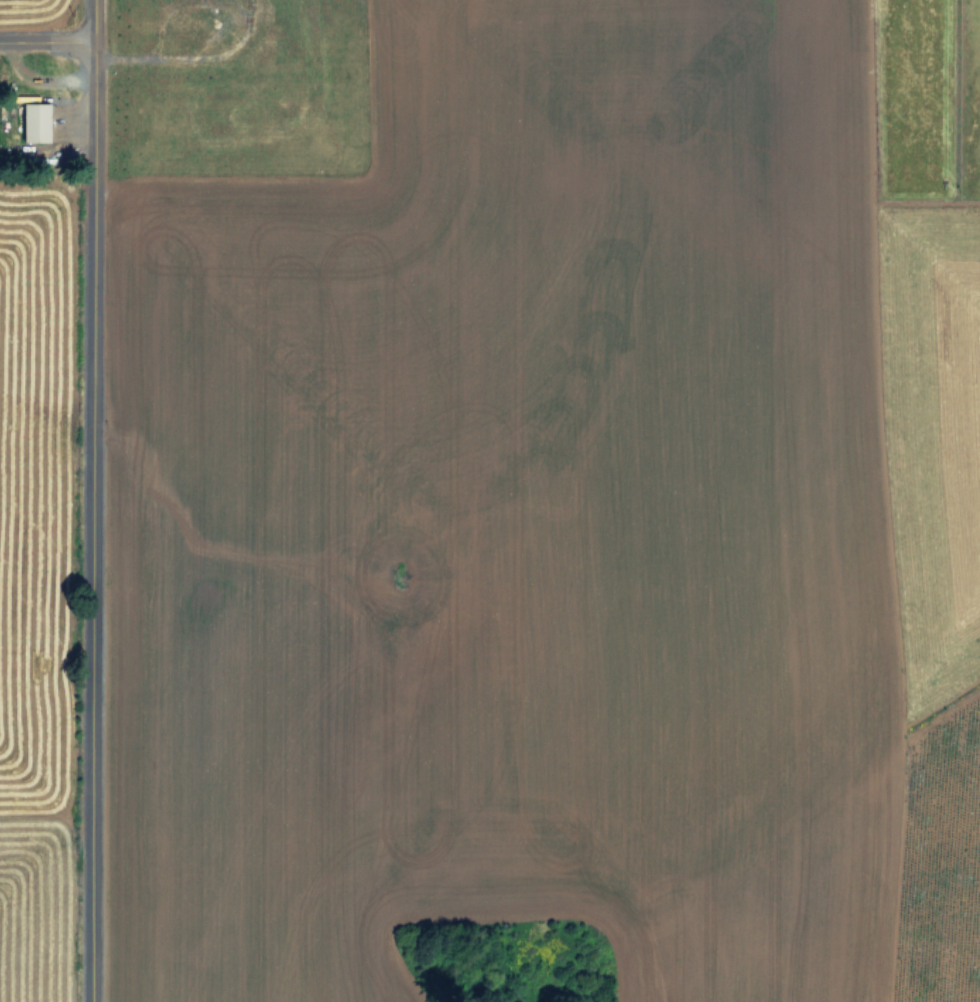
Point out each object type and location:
road: (45, 42)
building: (31, 122)
road: (88, 500)
crop: (490, 501)

